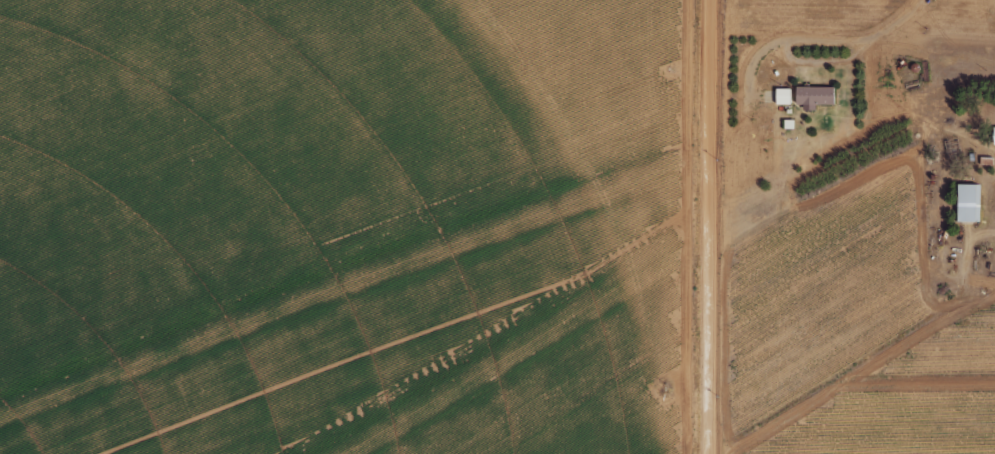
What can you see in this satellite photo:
road: (899, 20)
road: (786, 54)
building: (813, 95)
building: (967, 202)
road: (709, 227)
road: (979, 234)

